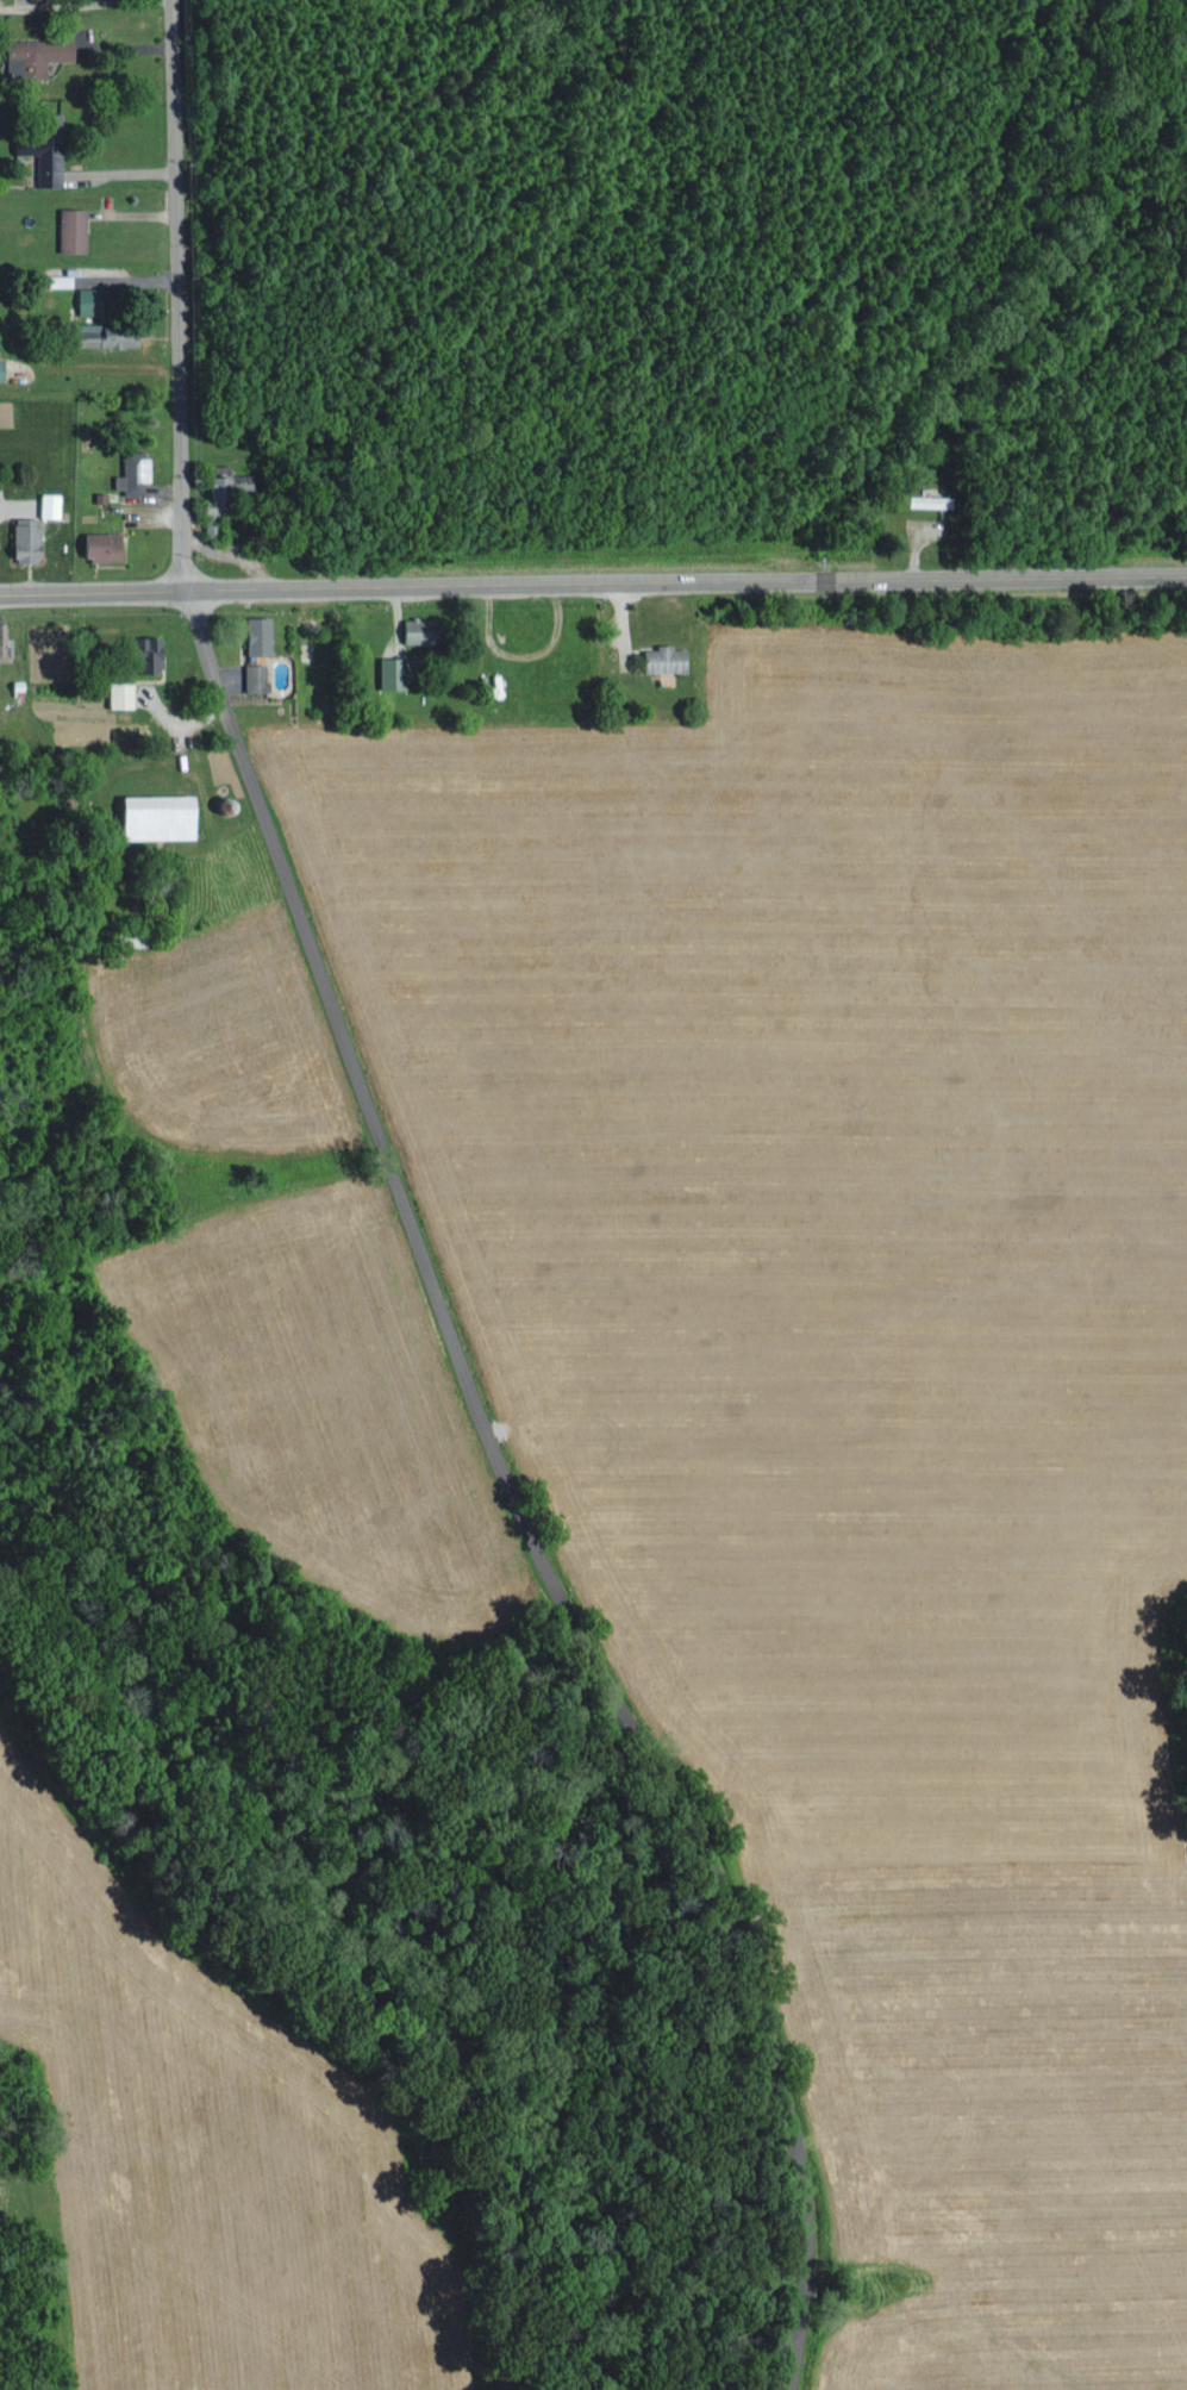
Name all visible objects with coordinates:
building: (19, 0)
building: (31, 54)
building: (44, 145)
building: (68, 227)
building: (56, 279)
road: (176, 294)
building: (82, 299)
building: (101, 332)
building: (129, 470)
building: (229, 479)
building: (927, 499)
building: (46, 503)
building: (20, 537)
building: (95, 544)
road: (593, 582)
building: (410, 628)
building: (252, 634)
building: (0, 647)
building: (137, 651)
building: (660, 657)
building: (386, 670)
building: (251, 675)
building: (117, 692)
building: (150, 815)
road: (512, 1493)

